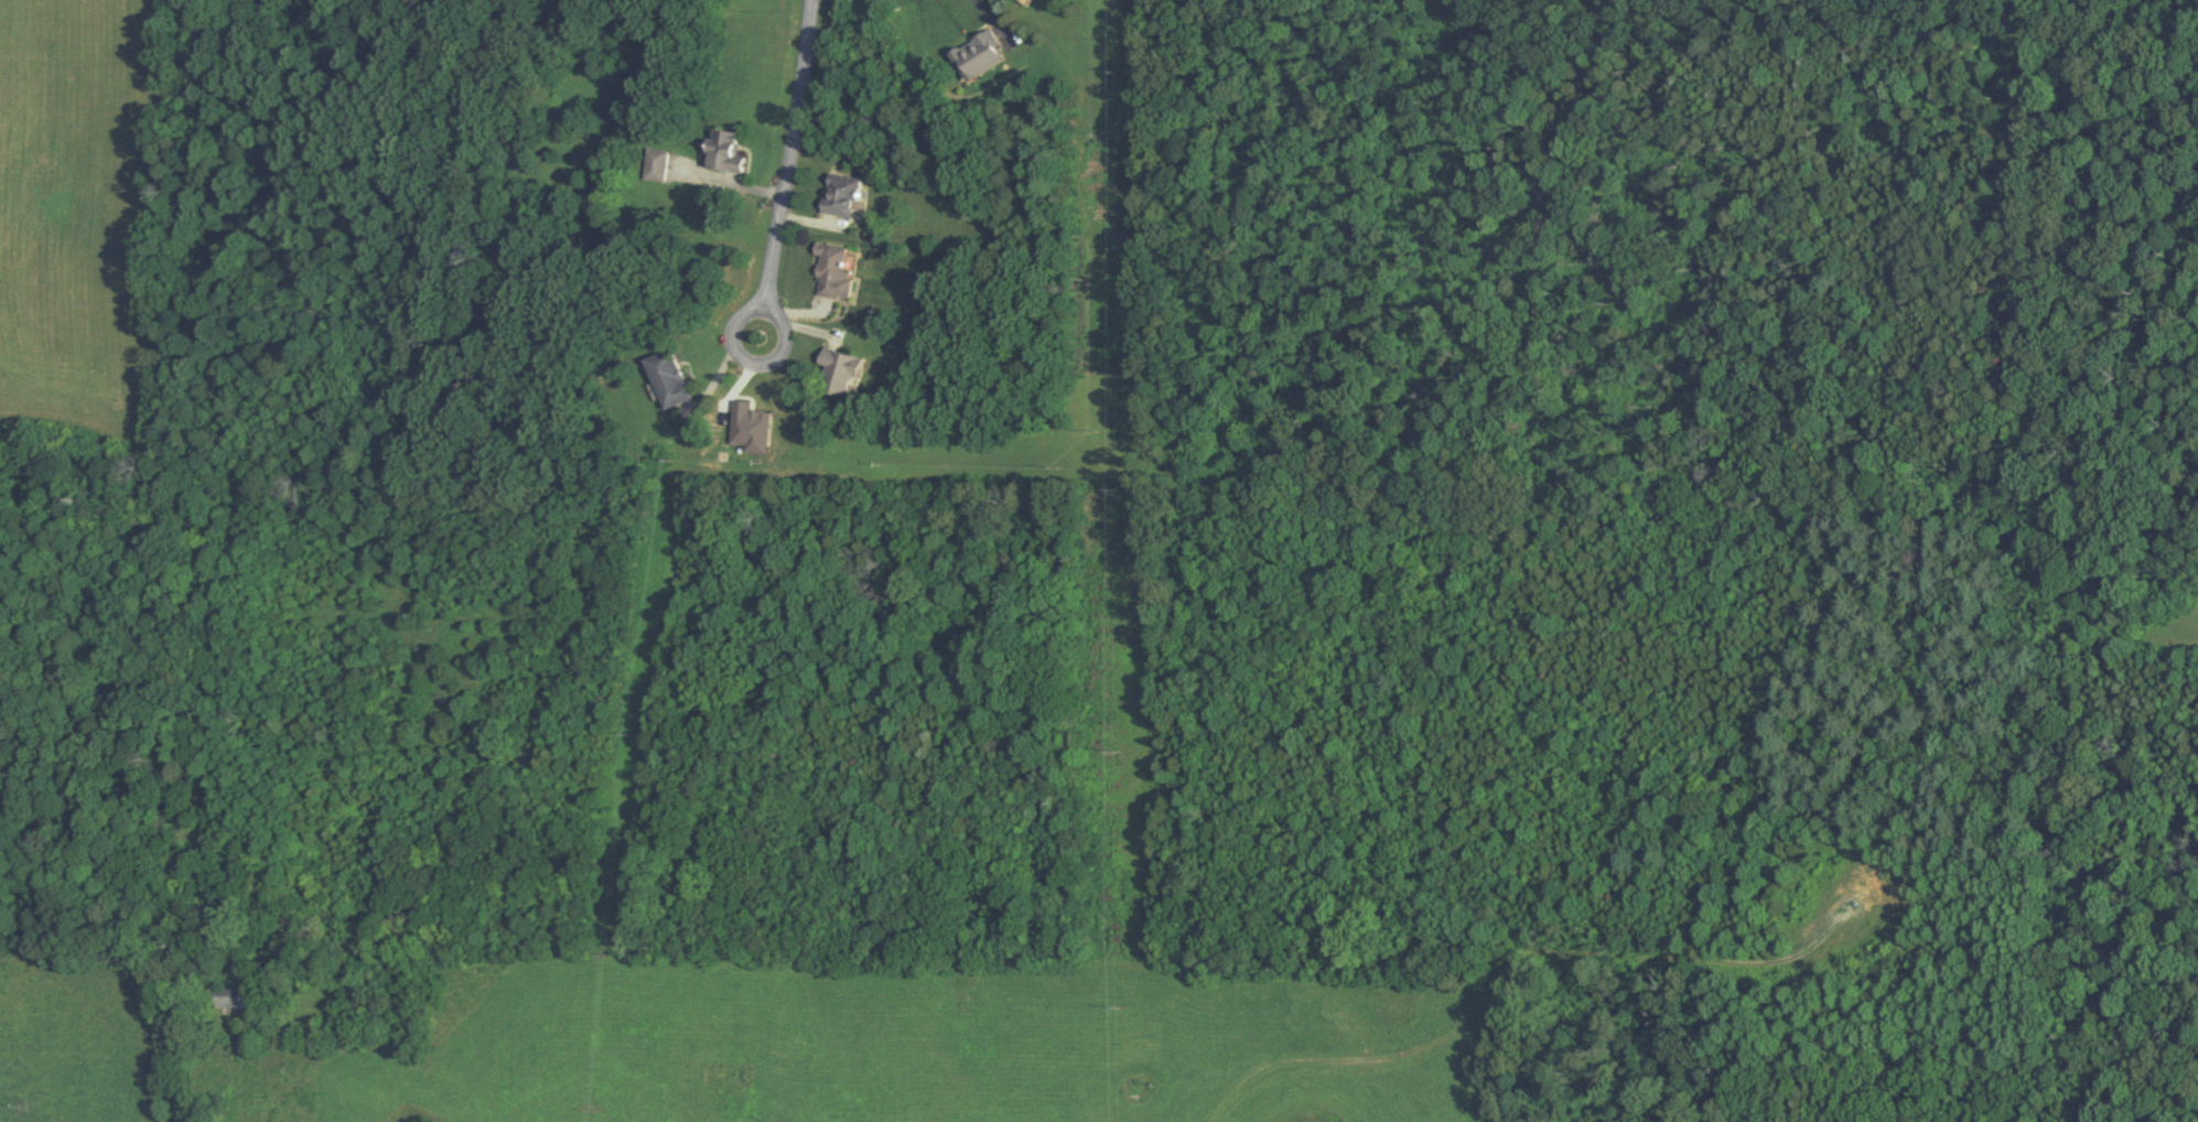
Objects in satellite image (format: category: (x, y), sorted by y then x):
building: (977, 54)
building: (720, 149)
building: (655, 164)
road: (790, 166)
building: (838, 194)
building: (828, 272)
building: (837, 373)
building: (666, 377)
road: (144, 742)
building: (229, 995)

